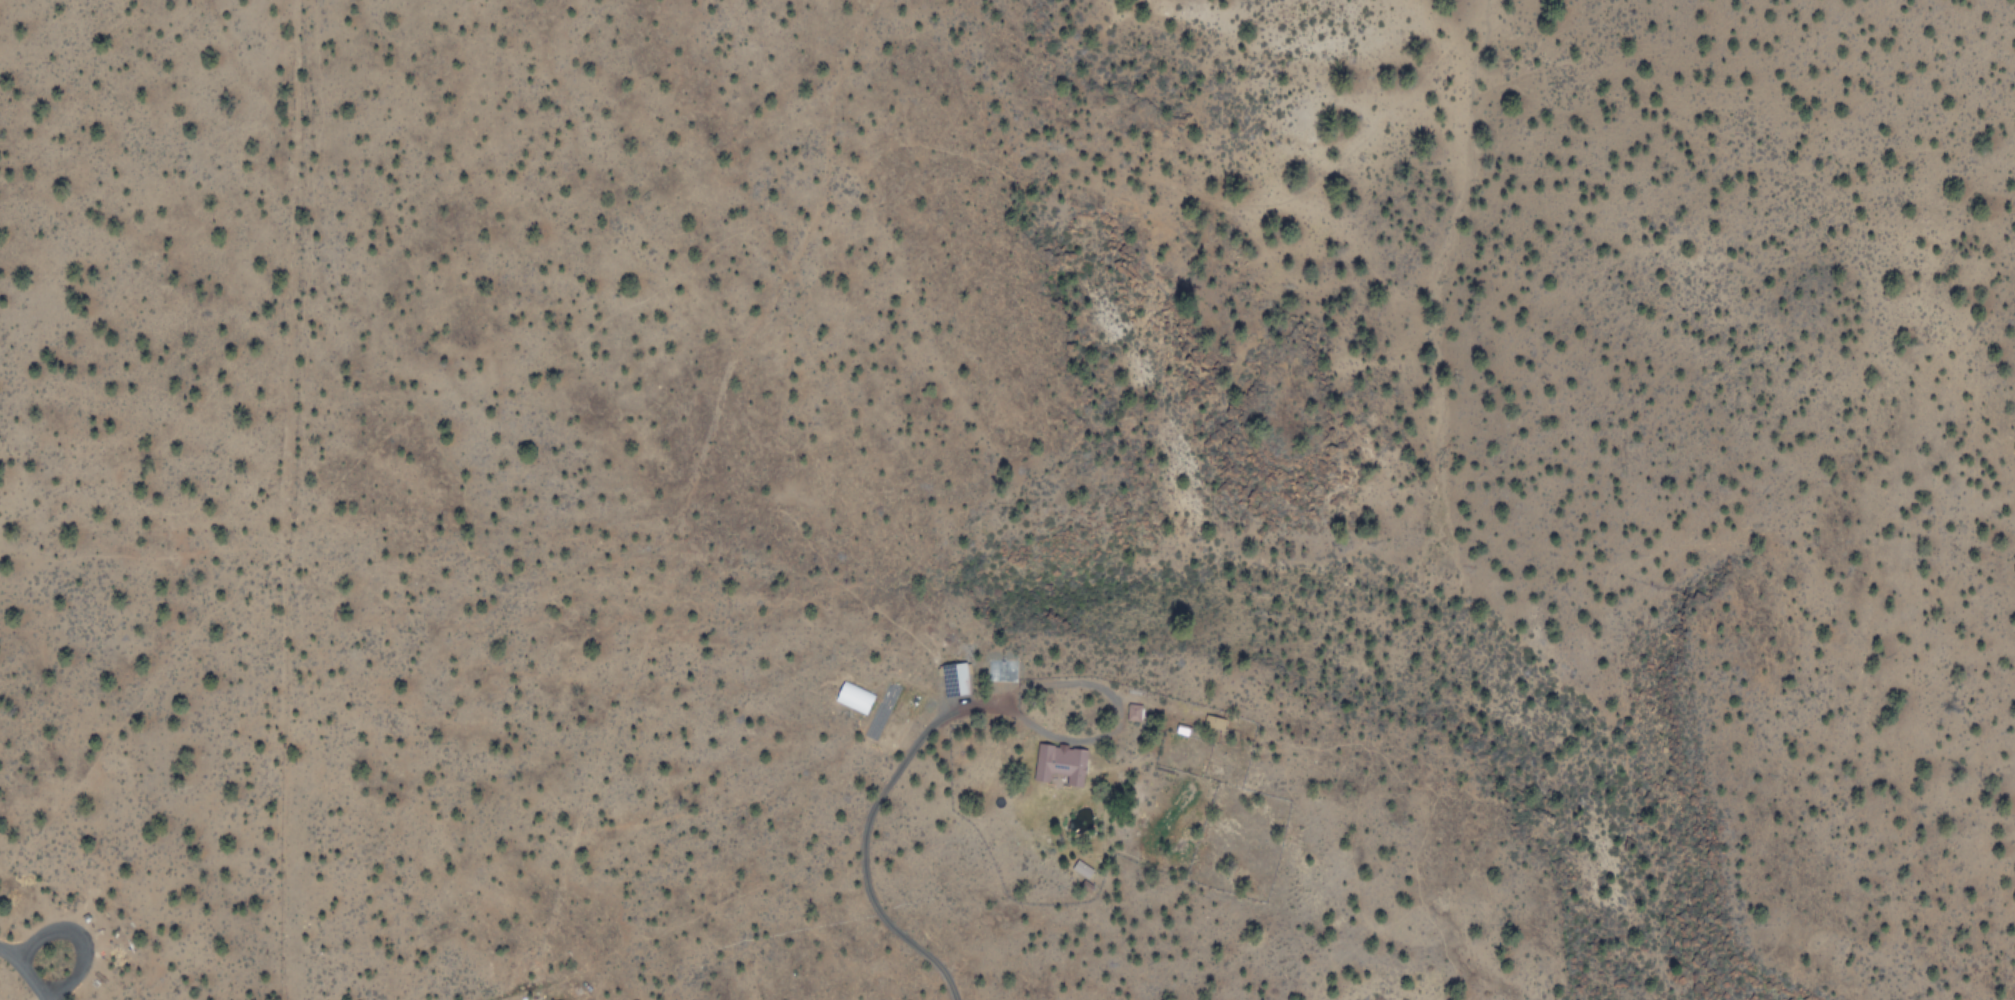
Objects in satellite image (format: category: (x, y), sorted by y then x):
building: (1133, 711)
building: (1061, 762)
road: (864, 865)

